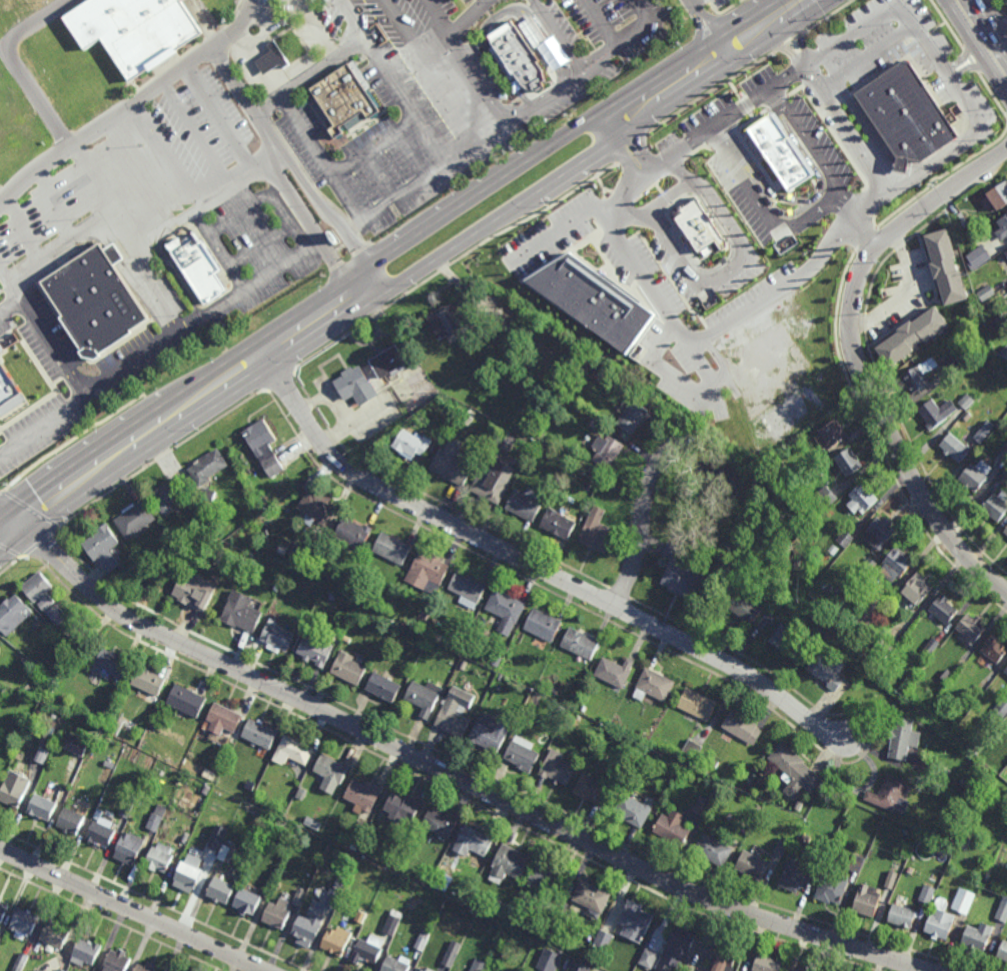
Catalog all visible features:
road: (995, 1)
road: (705, 2)
road: (488, 3)
road: (684, 4)
road: (1002, 10)
road: (645, 12)
road: (721, 12)
road: (503, 13)
road: (831, 15)
road: (660, 18)
road: (704, 20)
road: (602, 23)
road: (909, 23)
road: (946, 24)
road: (275, 25)
road: (937, 28)
road: (317, 29)
road: (988, 29)
building: (137, 30)
road: (240, 30)
building: (534, 32)
road: (559, 37)
road: (922, 37)
road: (448, 42)
road: (790, 42)
road: (803, 42)
road: (975, 47)
road: (186, 52)
road: (787, 53)
road: (963, 56)
road: (866, 58)
building: (272, 59)
building: (259, 61)
road: (466, 61)
road: (970, 62)
building: (522, 63)
road: (260, 65)
road: (15, 67)
road: (969, 69)
road: (432, 70)
road: (171, 71)
road: (579, 74)
road: (919, 74)
road: (880, 75)
road: (313, 77)
road: (396, 80)
road: (235, 83)
road: (713, 92)
road: (796, 96)
road: (993, 96)
road: (725, 99)
building: (345, 101)
road: (836, 104)
road: (777, 109)
building: (905, 115)
road: (737, 118)
road: (219, 120)
road: (106, 125)
road: (745, 130)
road: (746, 130)
road: (848, 130)
road: (573, 131)
road: (197, 135)
road: (872, 135)
road: (695, 139)
road: (836, 139)
road: (374, 143)
road: (632, 144)
road: (410, 154)
road: (167, 156)
road: (709, 156)
road: (321, 160)
building: (771, 161)
road: (935, 161)
road: (687, 171)
road: (137, 176)
road: (377, 176)
road: (942, 177)
road: (425, 178)
road: (674, 181)
road: (314, 191)
road: (653, 194)
building: (996, 196)
road: (875, 199)
road: (209, 200)
road: (660, 201)
road: (669, 206)
road: (52, 211)
road: (251, 211)
road: (304, 216)
road: (857, 216)
road: (874, 217)
building: (962, 219)
road: (292, 227)
building: (684, 227)
building: (1002, 227)
road: (561, 228)
road: (22, 232)
road: (129, 242)
road: (263, 244)
road: (226, 249)
building: (1006, 253)
building: (978, 257)
road: (453, 261)
building: (946, 267)
building: (195, 269)
road: (730, 270)
road: (414, 275)
road: (4, 284)
road: (371, 284)
road: (903, 292)
road: (10, 293)
building: (986, 293)
building: (593, 301)
building: (93, 303)
road: (8, 307)
building: (450, 318)
building: (999, 323)
building: (912, 336)
road: (682, 338)
road: (160, 351)
building: (1003, 354)
road: (859, 356)
building: (570, 358)
road: (721, 361)
building: (954, 361)
building: (388, 362)
building: (13, 369)
building: (602, 375)
building: (918, 375)
building: (356, 386)
road: (690, 389)
road: (183, 392)
building: (966, 401)
building: (936, 412)
building: (632, 416)
building: (967, 416)
building: (467, 419)
road: (357, 421)
building: (598, 425)
building: (985, 432)
building: (833, 433)
building: (523, 440)
building: (412, 443)
building: (264, 447)
building: (538, 447)
building: (955, 448)
building: (606, 450)
building: (1004, 451)
building: (452, 462)
building: (848, 462)
building: (780, 465)
building: (208, 466)
building: (582, 470)
building: (497, 471)
building: (975, 476)
building: (1003, 477)
building: (615, 485)
building: (208, 493)
building: (169, 495)
building: (824, 499)
building: (861, 500)
building: (526, 503)
building: (997, 506)
building: (317, 507)
road: (643, 514)
building: (136, 519)
building: (558, 524)
building: (597, 531)
building: (1006, 531)
building: (881, 532)
building: (353, 533)
traffic signals: (26, 534)
building: (844, 539)
building: (285, 543)
building: (103, 547)
building: (392, 549)
building: (219, 551)
building: (302, 556)
road: (530, 563)
building: (895, 565)
building: (867, 567)
building: (428, 572)
building: (683, 574)
building: (468, 588)
building: (917, 590)
building: (194, 592)
building: (44, 596)
building: (328, 596)
building: (379, 599)
building: (745, 607)
building: (506, 610)
building: (943, 610)
building: (241, 612)
building: (13, 614)
building: (423, 617)
building: (866, 618)
building: (544, 625)
building: (970, 630)
building: (277, 637)
building: (347, 639)
building: (581, 643)
building: (791, 643)
building: (0, 644)
building: (457, 644)
building: (932, 646)
building: (466, 648)
building: (883, 648)
building: (995, 648)
building: (316, 651)
building: (583, 660)
building: (874, 661)
building: (496, 662)
building: (110, 664)
building: (463, 666)
building: (349, 669)
building: (829, 670)
building: (1006, 671)
building: (615, 672)
building: (149, 678)
building: (385, 686)
building: (654, 688)
building: (554, 690)
building: (976, 693)
building: (424, 697)
building: (463, 698)
building: (185, 700)
building: (698, 703)
building: (967, 705)
building: (1001, 706)
building: (583, 708)
building: (561, 710)
building: (579, 716)
building: (221, 719)
building: (453, 721)
building: (742, 726)
building: (50, 732)
building: (260, 732)
building: (490, 732)
building: (902, 736)
building: (75, 745)
building: (292, 749)
building: (691, 750)
building: (42, 751)
building: (523, 752)
building: (714, 762)
building: (558, 766)
building: (676, 766)
building: (920, 767)
building: (795, 768)
building: (331, 771)
building: (208, 775)
road: (452, 775)
building: (760, 780)
building: (252, 786)
building: (14, 788)
building: (206, 788)
building: (592, 788)
building: (170, 791)
building: (301, 793)
building: (364, 793)
building: (891, 794)
building: (75, 799)
building: (702, 805)
building: (798, 805)
building: (41, 807)
building: (403, 807)
building: (634, 807)
building: (125, 809)
building: (263, 816)
building: (70, 821)
building: (440, 821)
building: (153, 822)
building: (747, 823)
building: (671, 829)
building: (101, 832)
building: (806, 838)
building: (473, 840)
building: (963, 843)
building: (395, 844)
building: (130, 846)
building: (353, 846)
building: (781, 846)
building: (713, 848)
building: (219, 850)
building: (394, 855)
building: (159, 858)
building: (510, 862)
building: (857, 862)
building: (753, 864)
building: (188, 873)
building: (441, 875)
building: (291, 876)
building: (548, 877)
building: (795, 877)
building: (891, 879)
building: (834, 886)
building: (447, 887)
building: (220, 889)
building: (409, 889)
building: (927, 893)
building: (592, 896)
building: (299, 897)
building: (0, 900)
building: (963, 900)
building: (247, 901)
building: (866, 901)
building: (484, 905)
building: (501, 906)
building: (3, 910)
road: (132, 910)
building: (1002, 912)
building: (277, 913)
building: (363, 913)
building: (903, 915)
building: (562, 917)
building: (512, 918)
building: (313, 920)
building: (635, 920)
building: (940, 920)
building: (393, 921)
building: (23, 923)
building: (54, 934)
building: (977, 936)
building: (681, 939)
building: (422, 940)
building: (602, 941)
building: (336, 942)
building: (368, 948)
building: (1003, 948)
building: (85, 952)
building: (451, 952)
building: (724, 956)
building: (648, 957)
building: (550, 959)
building: (116, 961)
building: (20, 962)
building: (481, 962)
building: (767, 963)
building: (396, 964)
building: (579, 966)
building: (146, 967)
building: (420, 969)
building: (803, 969)
building: (36, 970)
building: (60, 970)
building: (689, 970)

